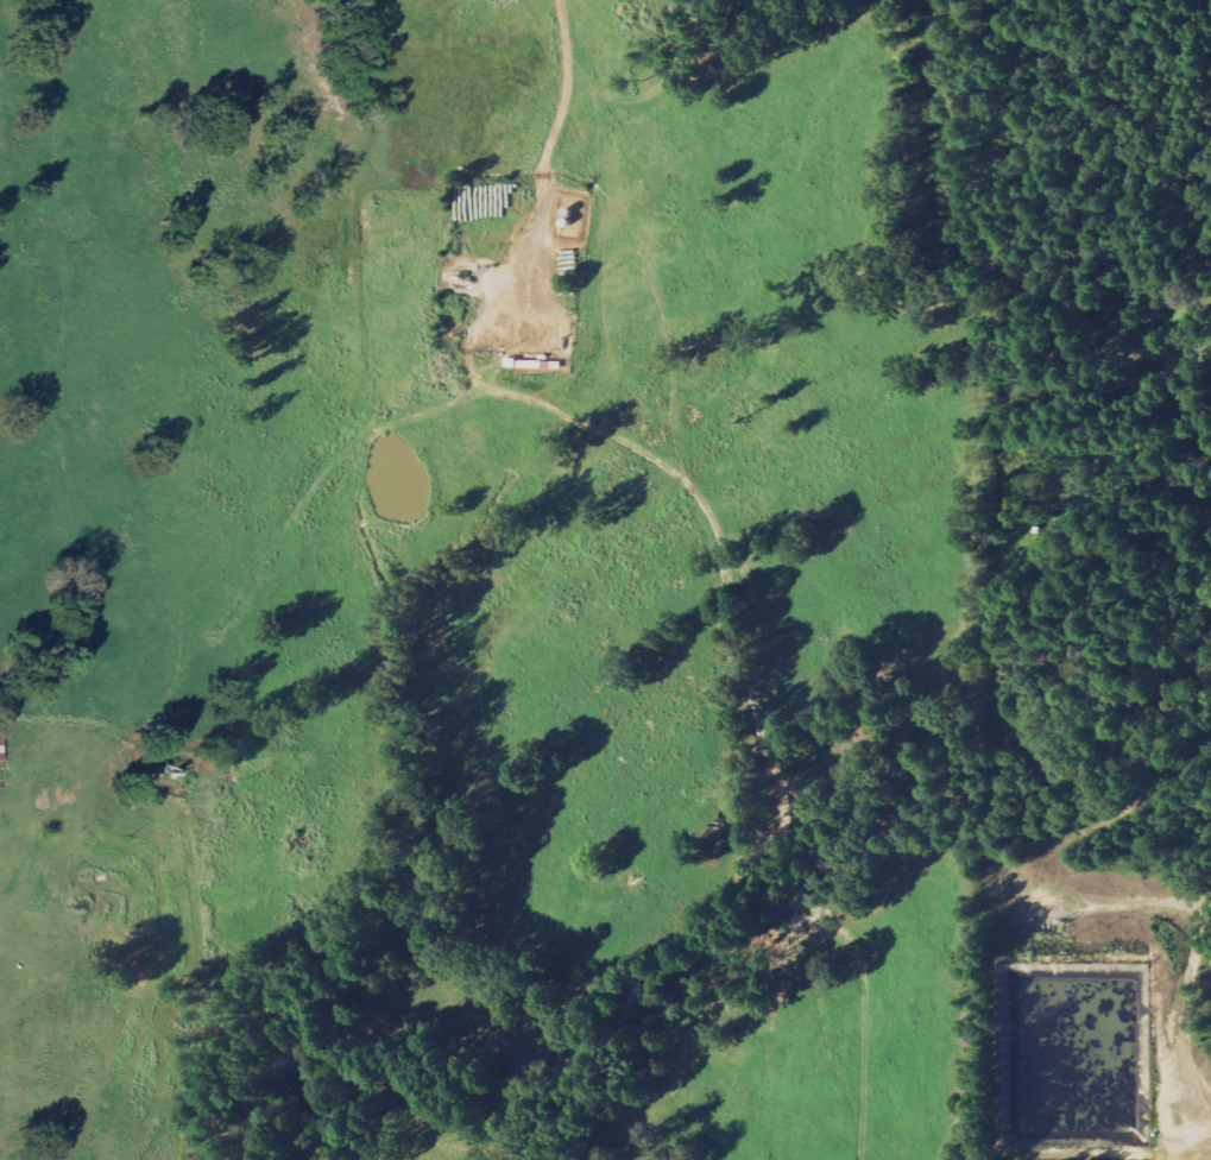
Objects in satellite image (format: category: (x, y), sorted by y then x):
road: (540, 202)
road: (75, 467)
road: (673, 471)
road: (1204, 513)
road: (1180, 1015)

